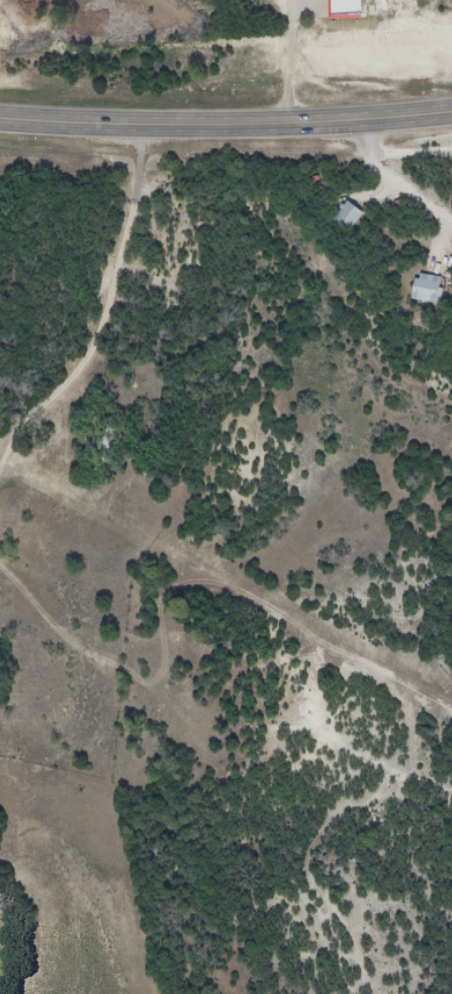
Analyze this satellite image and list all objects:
road: (226, 121)
road: (411, 156)
road: (395, 174)
building: (346, 216)
building: (426, 287)
road: (117, 314)
road: (199, 708)

